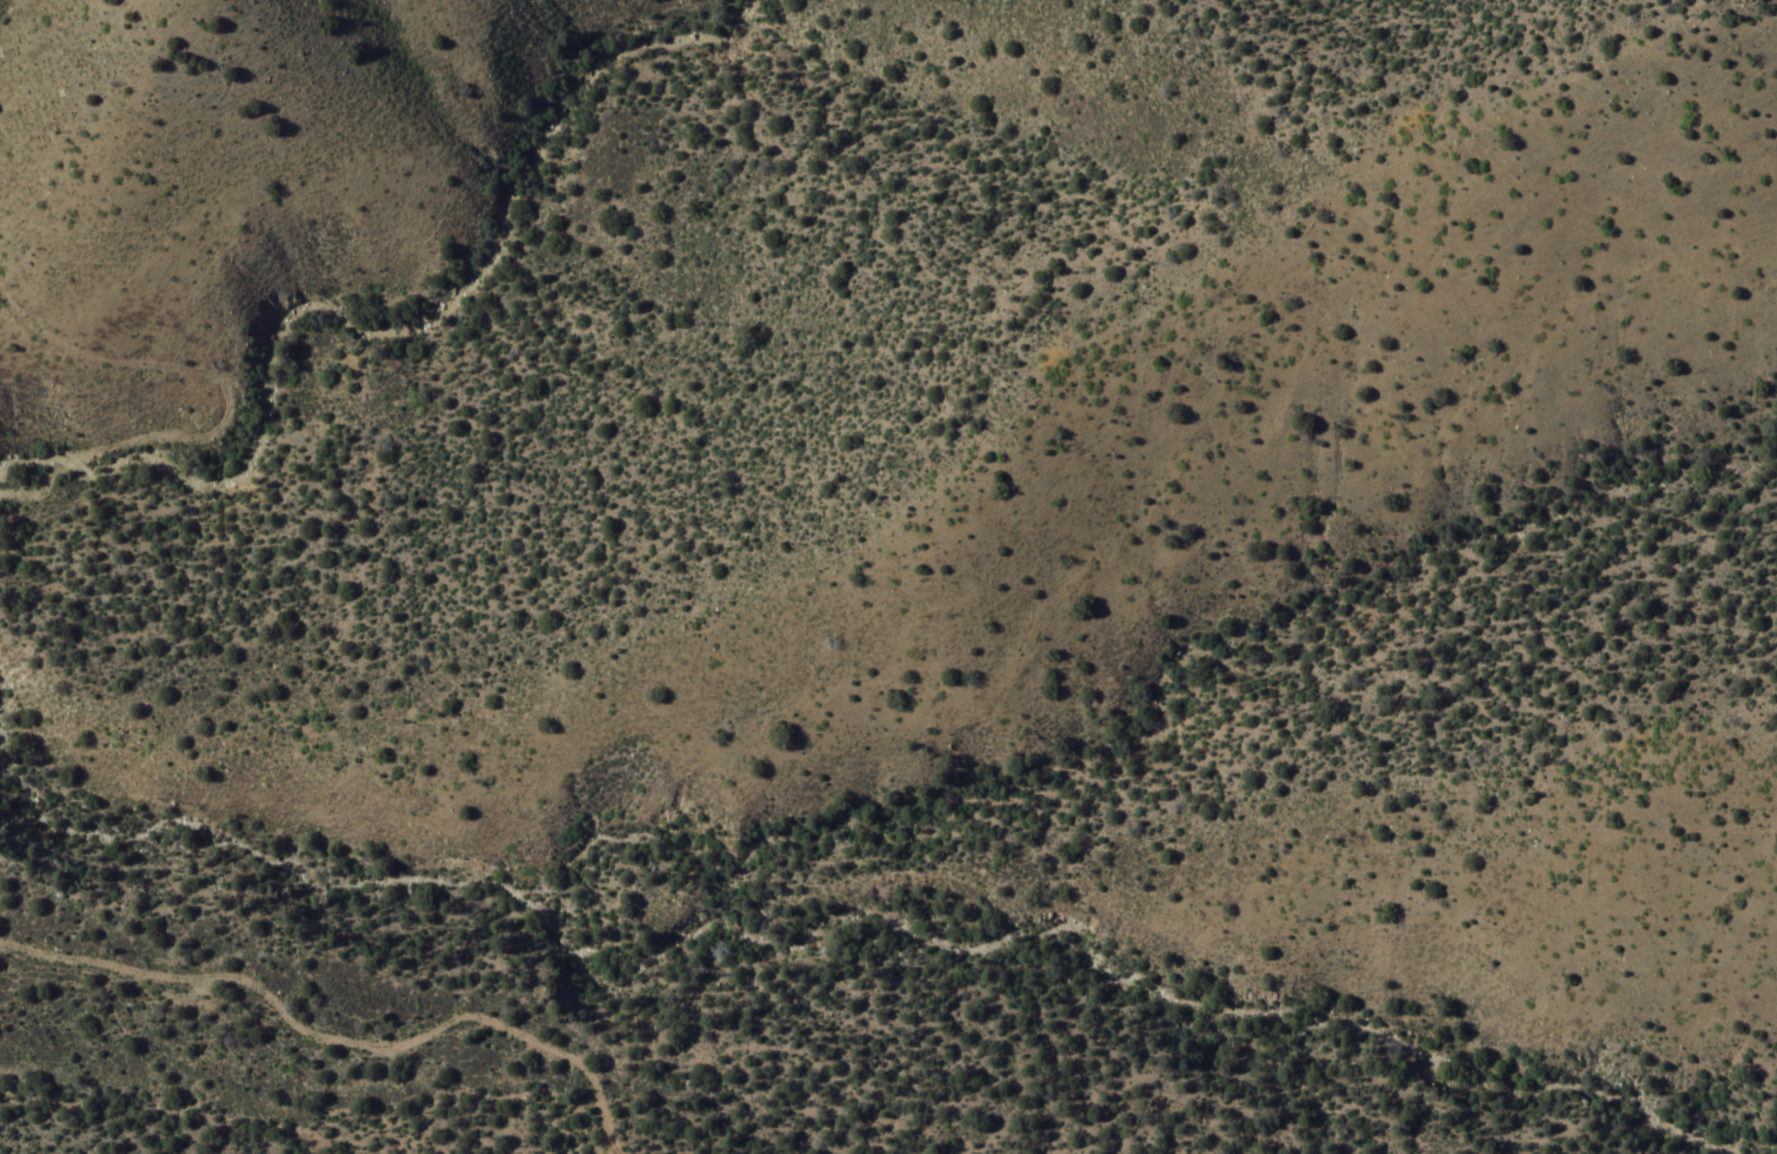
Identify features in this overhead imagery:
road: (160, 485)
road: (362, 960)

